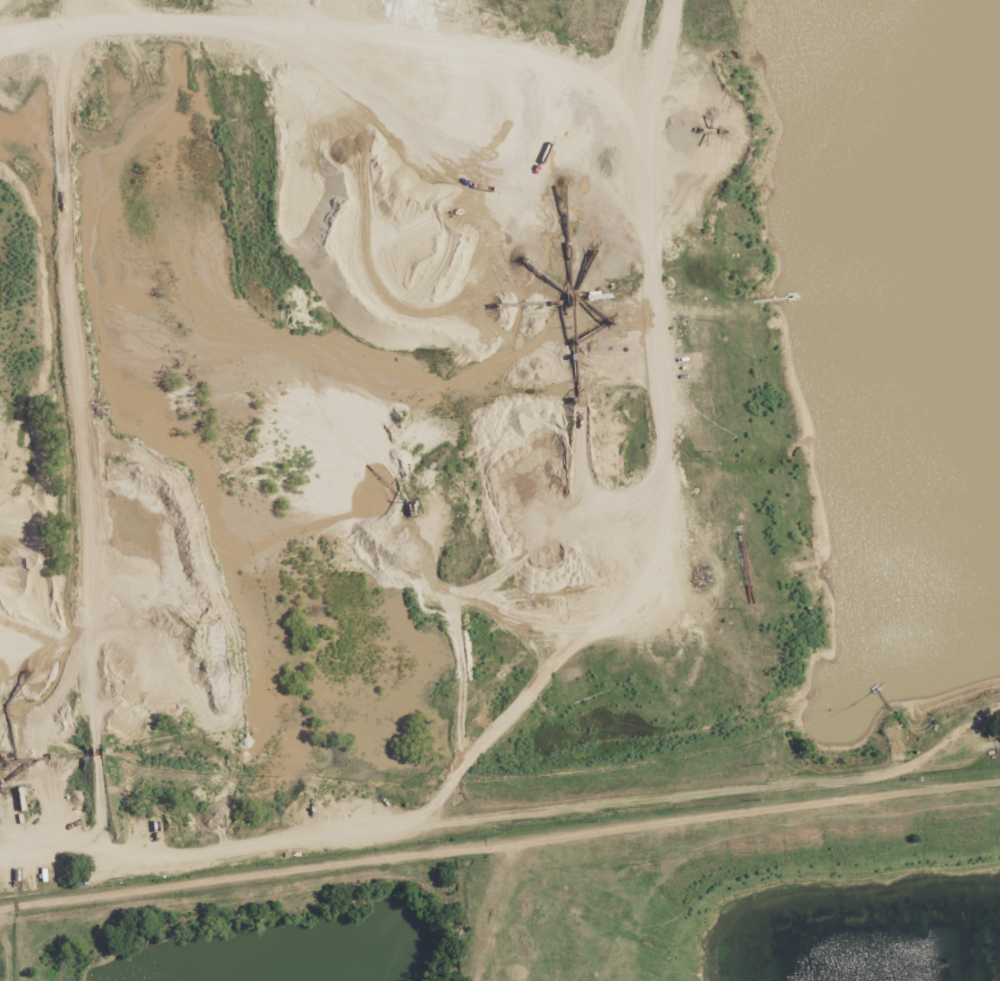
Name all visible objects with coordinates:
road: (499, 838)

